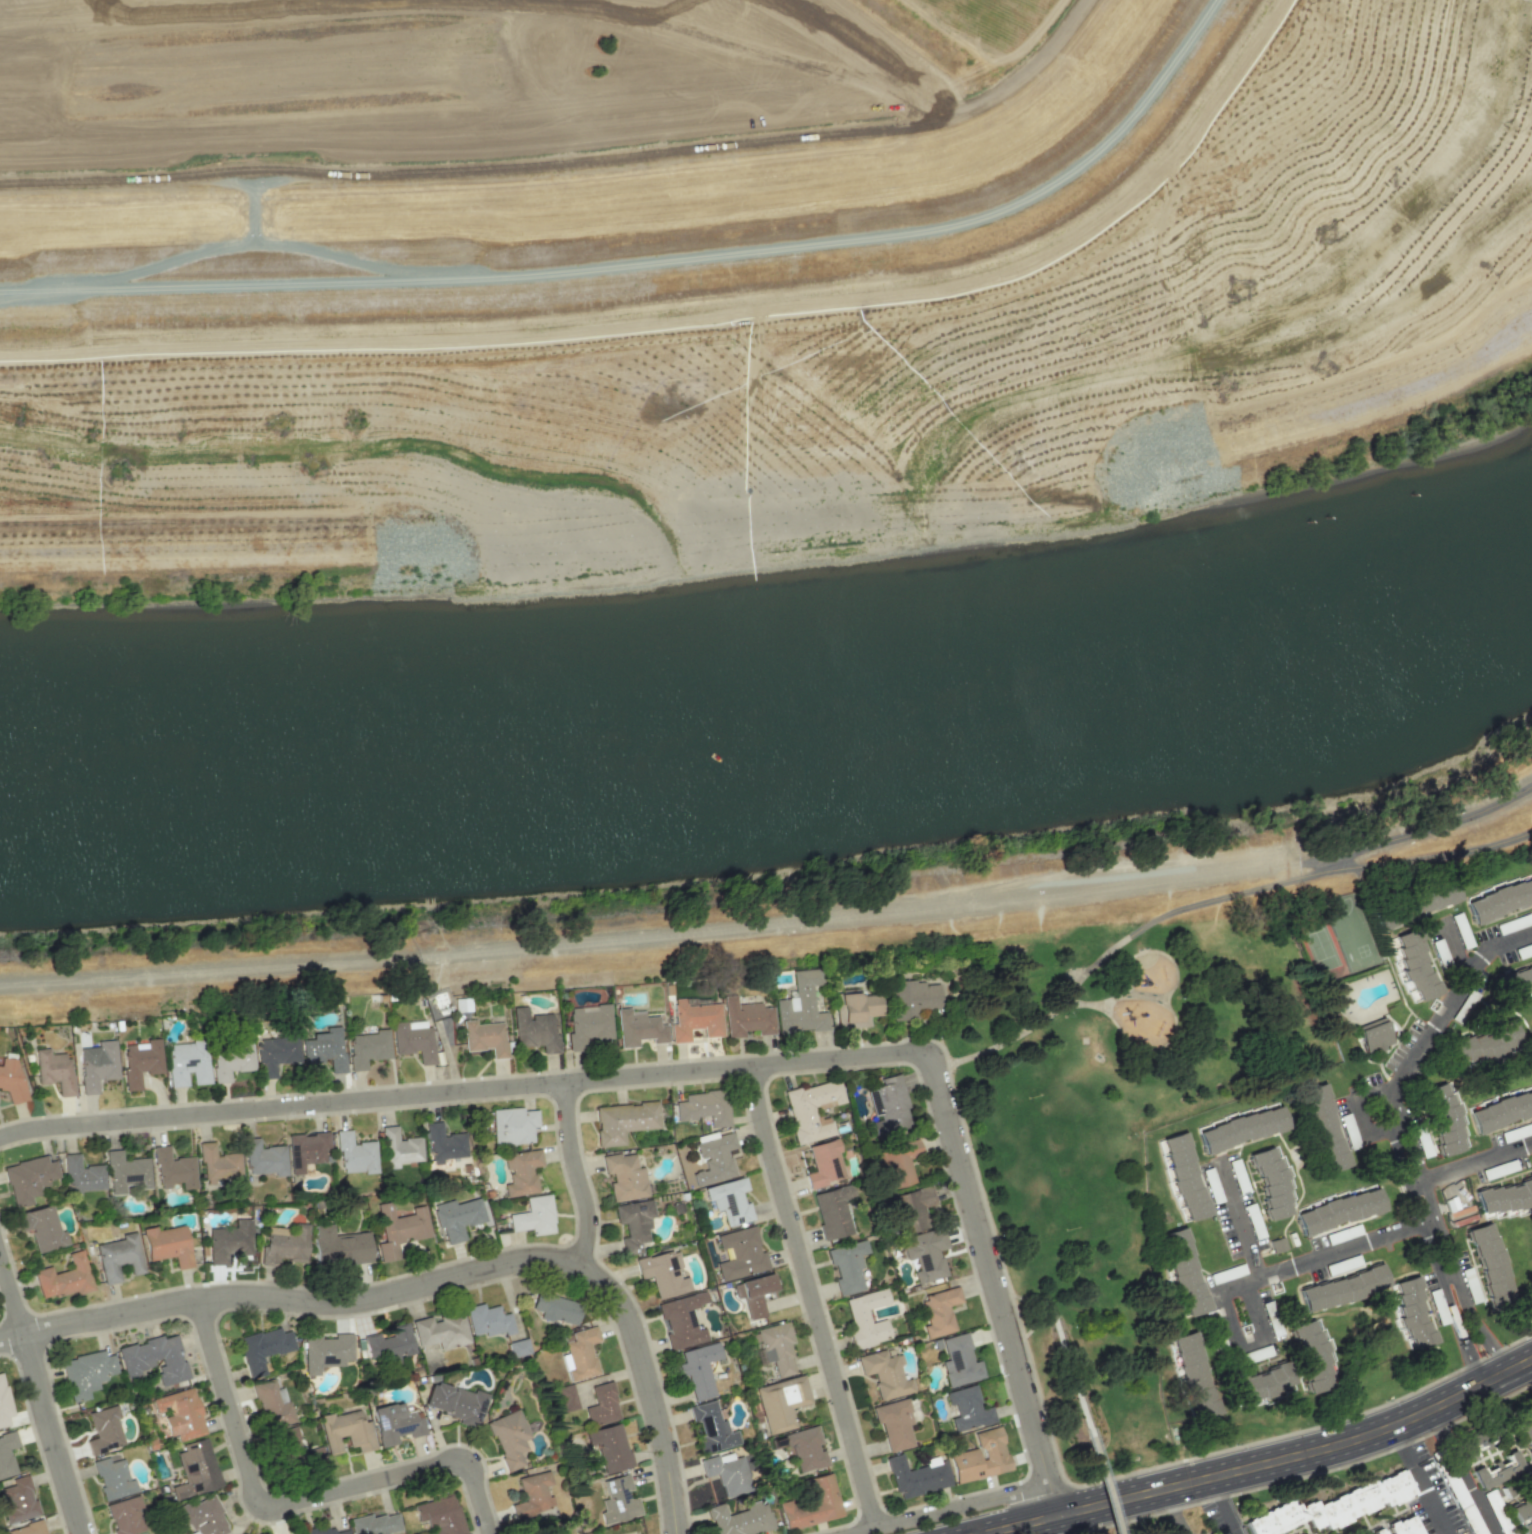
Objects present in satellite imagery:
road: (1376, 396)
road: (186, 548)
river: (773, 732)
road: (1430, 828)
road: (1211, 900)
building: (1500, 900)
building: (1422, 903)
road: (664, 937)
building: (1414, 964)
building: (1515, 981)
building: (914, 997)
building: (801, 1006)
building: (857, 1009)
building: (746, 1018)
building: (695, 1020)
building: (588, 1025)
building: (638, 1028)
building: (535, 1030)
building: (1374, 1036)
building: (484, 1037)
building: (414, 1040)
building: (1483, 1046)
building: (325, 1048)
building: (368, 1048)
building: (275, 1053)
building: (232, 1059)
building: (141, 1061)
building: (97, 1064)
building: (188, 1064)
road: (1408, 1069)
building: (54, 1070)
building: (11, 1081)
park: (1120, 1085)
road: (465, 1090)
building: (704, 1107)
building: (887, 1107)
building: (1500, 1109)
building: (811, 1110)
building: (1443, 1118)
building: (623, 1121)
building: (513, 1125)
building: (1322, 1127)
building: (1240, 1128)
building: (444, 1144)
building: (399, 1148)
building: (306, 1150)
building: (355, 1154)
building: (263, 1158)
building: (714, 1159)
building: (822, 1163)
building: (896, 1163)
road: (1475, 1163)
building: (216, 1164)
building: (173, 1169)
building: (126, 1172)
building: (521, 1172)
building: (82, 1175)
road: (579, 1175)
building: (624, 1176)
building: (1184, 1176)
building: (28, 1179)
building: (1270, 1183)
building: (1503, 1198)
building: (729, 1201)
building: (911, 1208)
building: (832, 1211)
building: (1338, 1211)
building: (534, 1216)
building: (457, 1217)
road: (1240, 1222)
building: (633, 1224)
building: (42, 1228)
building: (399, 1229)
building: (229, 1241)
building: (284, 1243)
building: (167, 1245)
building: (339, 1247)
building: (740, 1253)
building: (925, 1254)
road: (1325, 1256)
building: (118, 1257)
building: (1490, 1263)
building: (846, 1266)
building: (663, 1272)
building: (1183, 1272)
building: (64, 1278)
road: (994, 1282)
road: (434, 1283)
building: (1342, 1288)
building: (753, 1293)
road: (811, 1295)
building: (555, 1308)
road: (1253, 1309)
road: (1472, 1310)
building: (938, 1312)
building: (1412, 1312)
building: (865, 1318)
road: (1454, 1318)
building: (487, 1320)
building: (681, 1321)
road: (1232, 1329)
building: (440, 1331)
building: (388, 1343)
building: (517, 1347)
building: (776, 1347)
road: (1063, 1347)
building: (263, 1348)
building: (326, 1352)
building: (579, 1353)
building: (1312, 1356)
building: (153, 1358)
building: (958, 1361)
building: (698, 1369)
building: (86, 1373)
building: (884, 1373)
building: (1193, 1375)
building: (1257, 1385)
road: (41, 1389)
building: (566, 1397)
building: (455, 1402)
building: (780, 1402)
building: (3, 1403)
building: (272, 1404)
building: (601, 1405)
building: (966, 1409)
building: (180, 1413)
building: (395, 1423)
building: (893, 1423)
building: (710, 1427)
building: (1524, 1428)
building: (104, 1430)
building: (345, 1431)
building: (508, 1437)
building: (1469, 1444)
road: (1406, 1445)
building: (609, 1447)
building: (804, 1448)
building: (292, 1449)
building: (6, 1454)
building: (980, 1457)
road: (1264, 1467)
building: (196, 1469)
building: (1497, 1470)
building: (726, 1473)
road: (1460, 1473)
building: (916, 1476)
building: (112, 1478)
road: (1106, 1485)
road: (1218, 1492)
building: (532, 1495)
building: (17, 1499)
road: (1433, 1499)
building: (617, 1500)
road: (295, 1501)
building: (812, 1503)
building: (1331, 1506)
road: (944, 1508)
road: (1178, 1512)
building: (1521, 1513)
building: (439, 1514)
building: (125, 1516)
building: (202, 1516)
building: (740, 1519)
road: (1231, 1519)
building: (375, 1524)
building: (1402, 1526)
park: (1132, 1528)
building: (27, 1529)
building: (325, 1531)
building: (1376, 1532)
building: (241, 1533)

